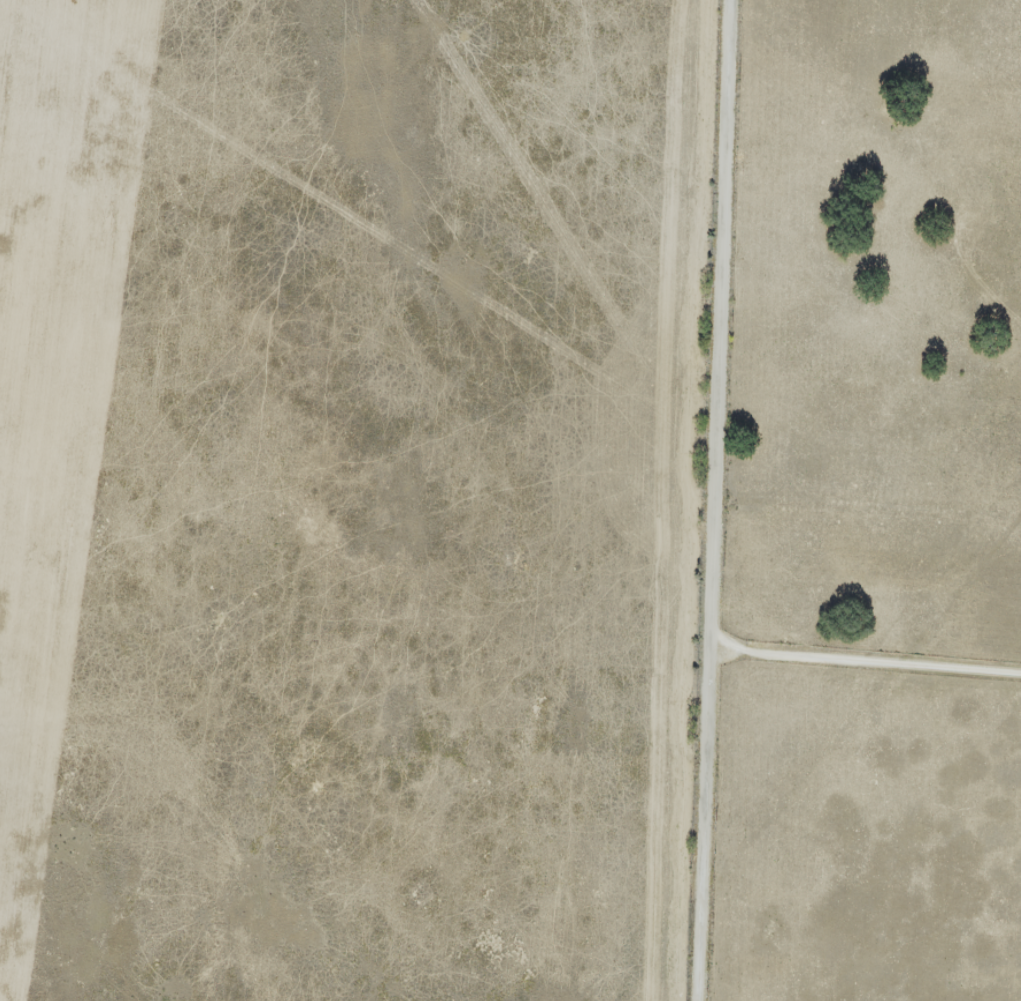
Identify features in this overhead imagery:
road: (719, 500)
road: (864, 658)

